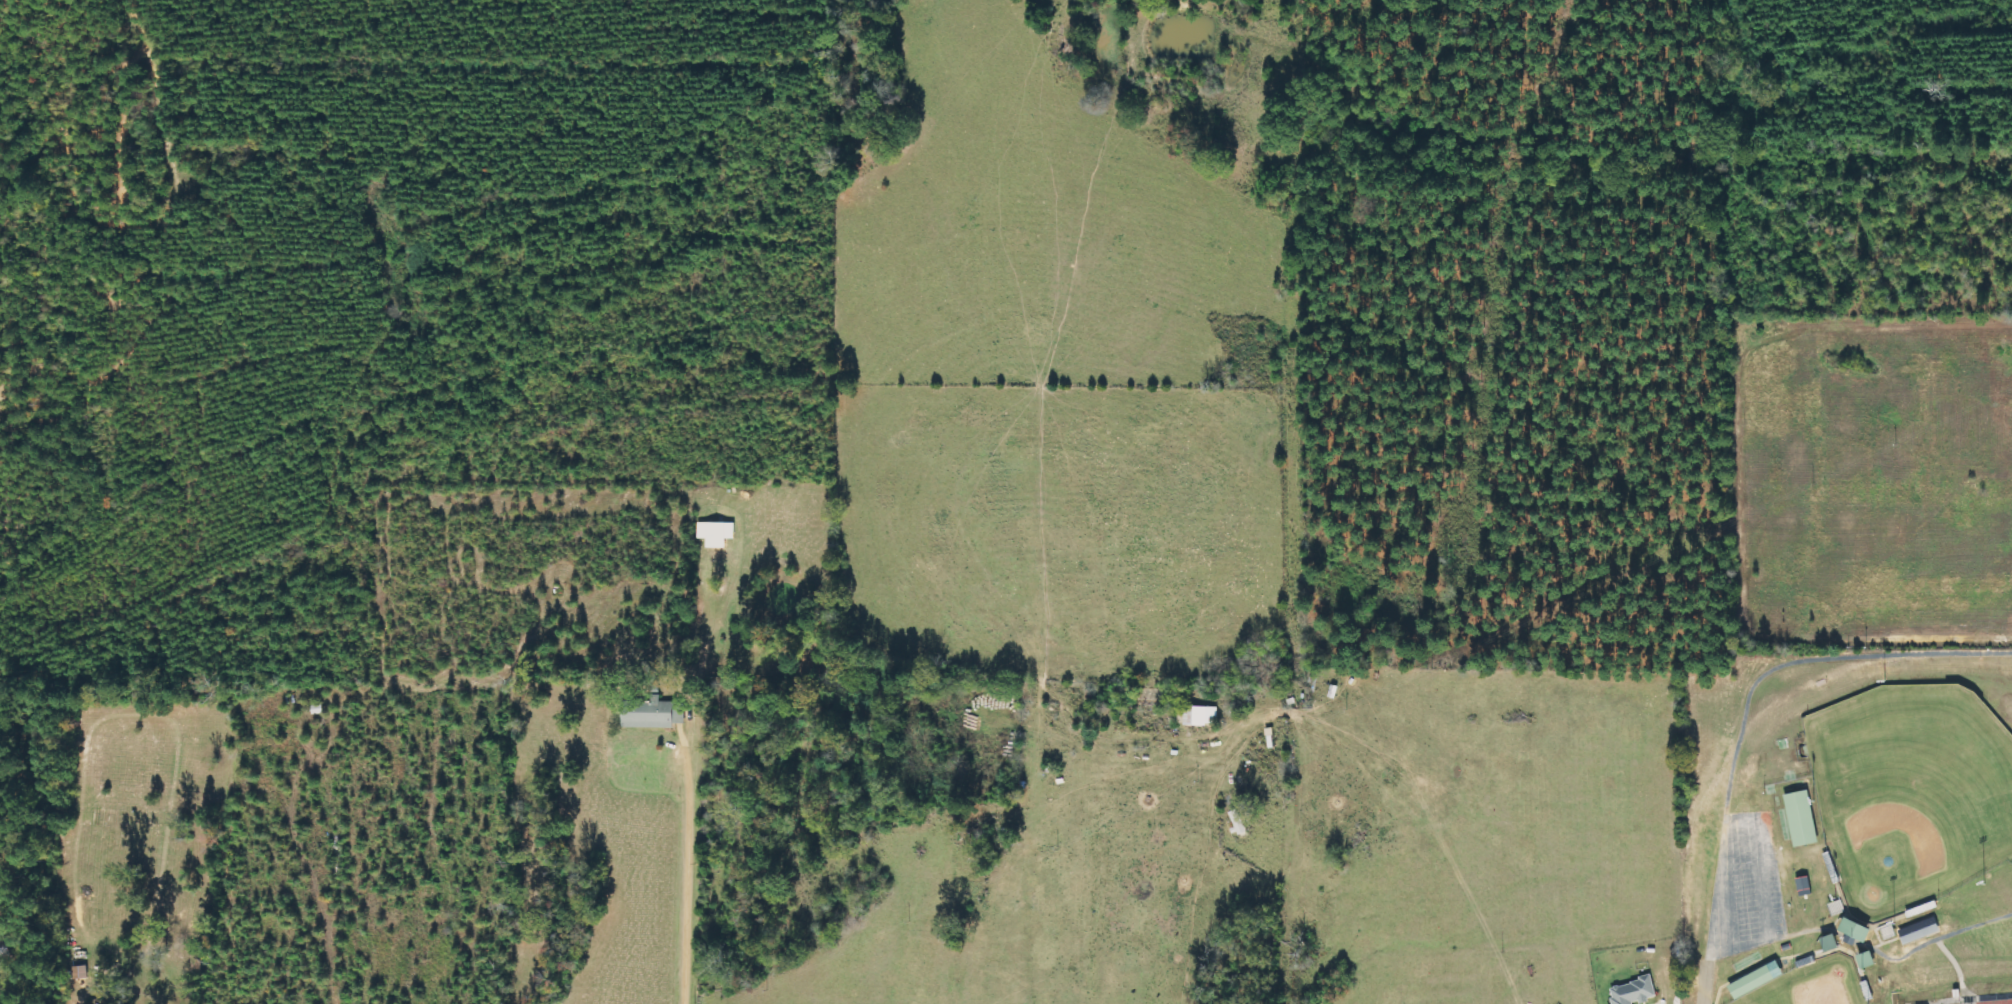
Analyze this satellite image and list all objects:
building: (717, 533)
road: (1809, 659)
building: (653, 714)
building: (1202, 716)
park: (1909, 791)
building: (1800, 817)
building: (1240, 822)
park: (1845, 824)
road: (1724, 884)
parking lot: (1743, 886)
building: (1802, 886)
road: (1765, 916)
building: (1858, 931)
building: (1910, 932)
building: (1832, 942)
road: (1891, 959)
building: (1869, 960)
road: (1954, 965)
building: (1750, 981)
park: (1811, 984)
building: (1634, 991)
road: (1954, 997)
building: (1976, 1003)

